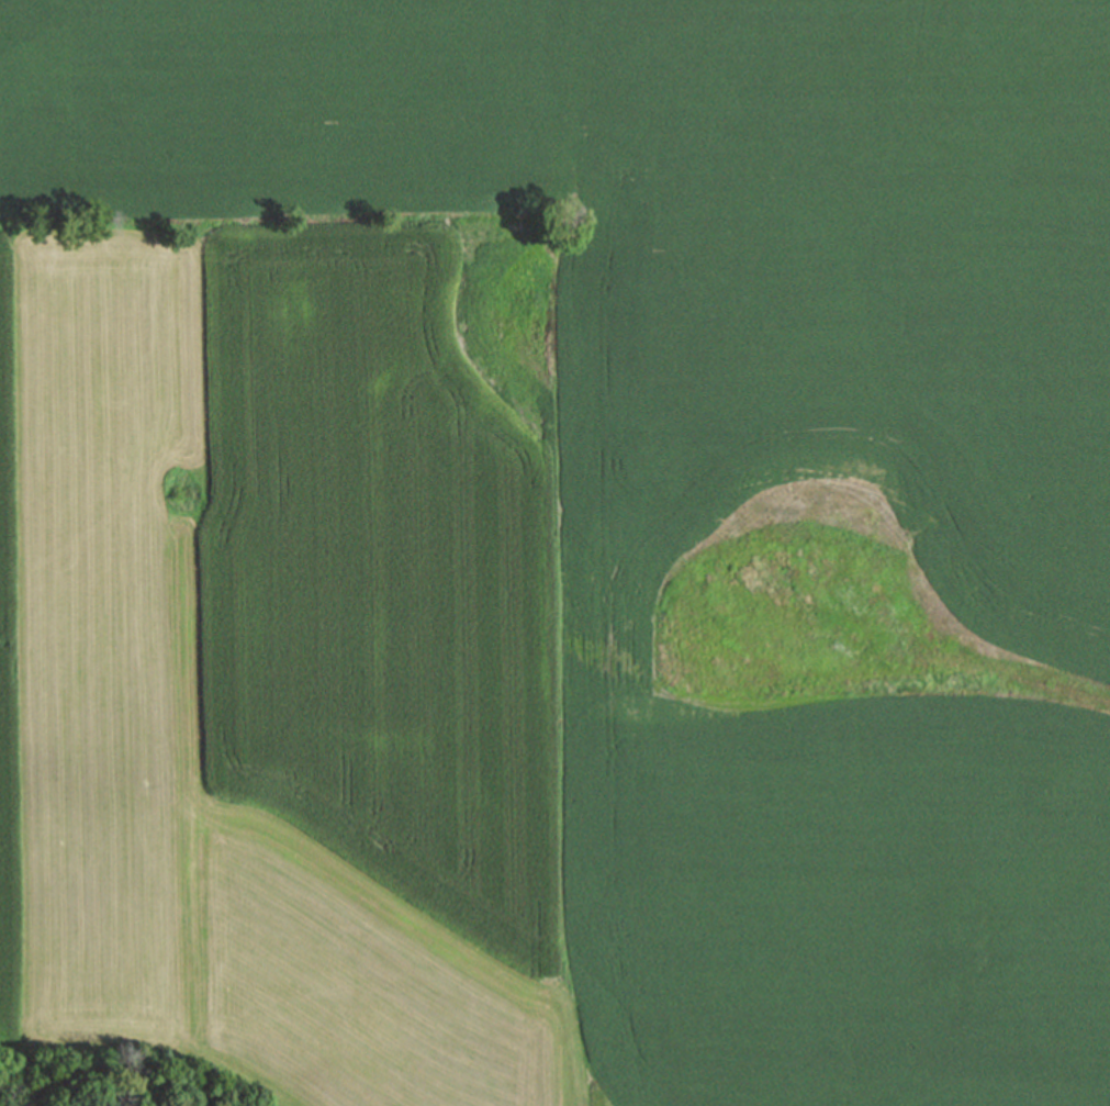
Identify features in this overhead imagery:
road: (44, 1068)

